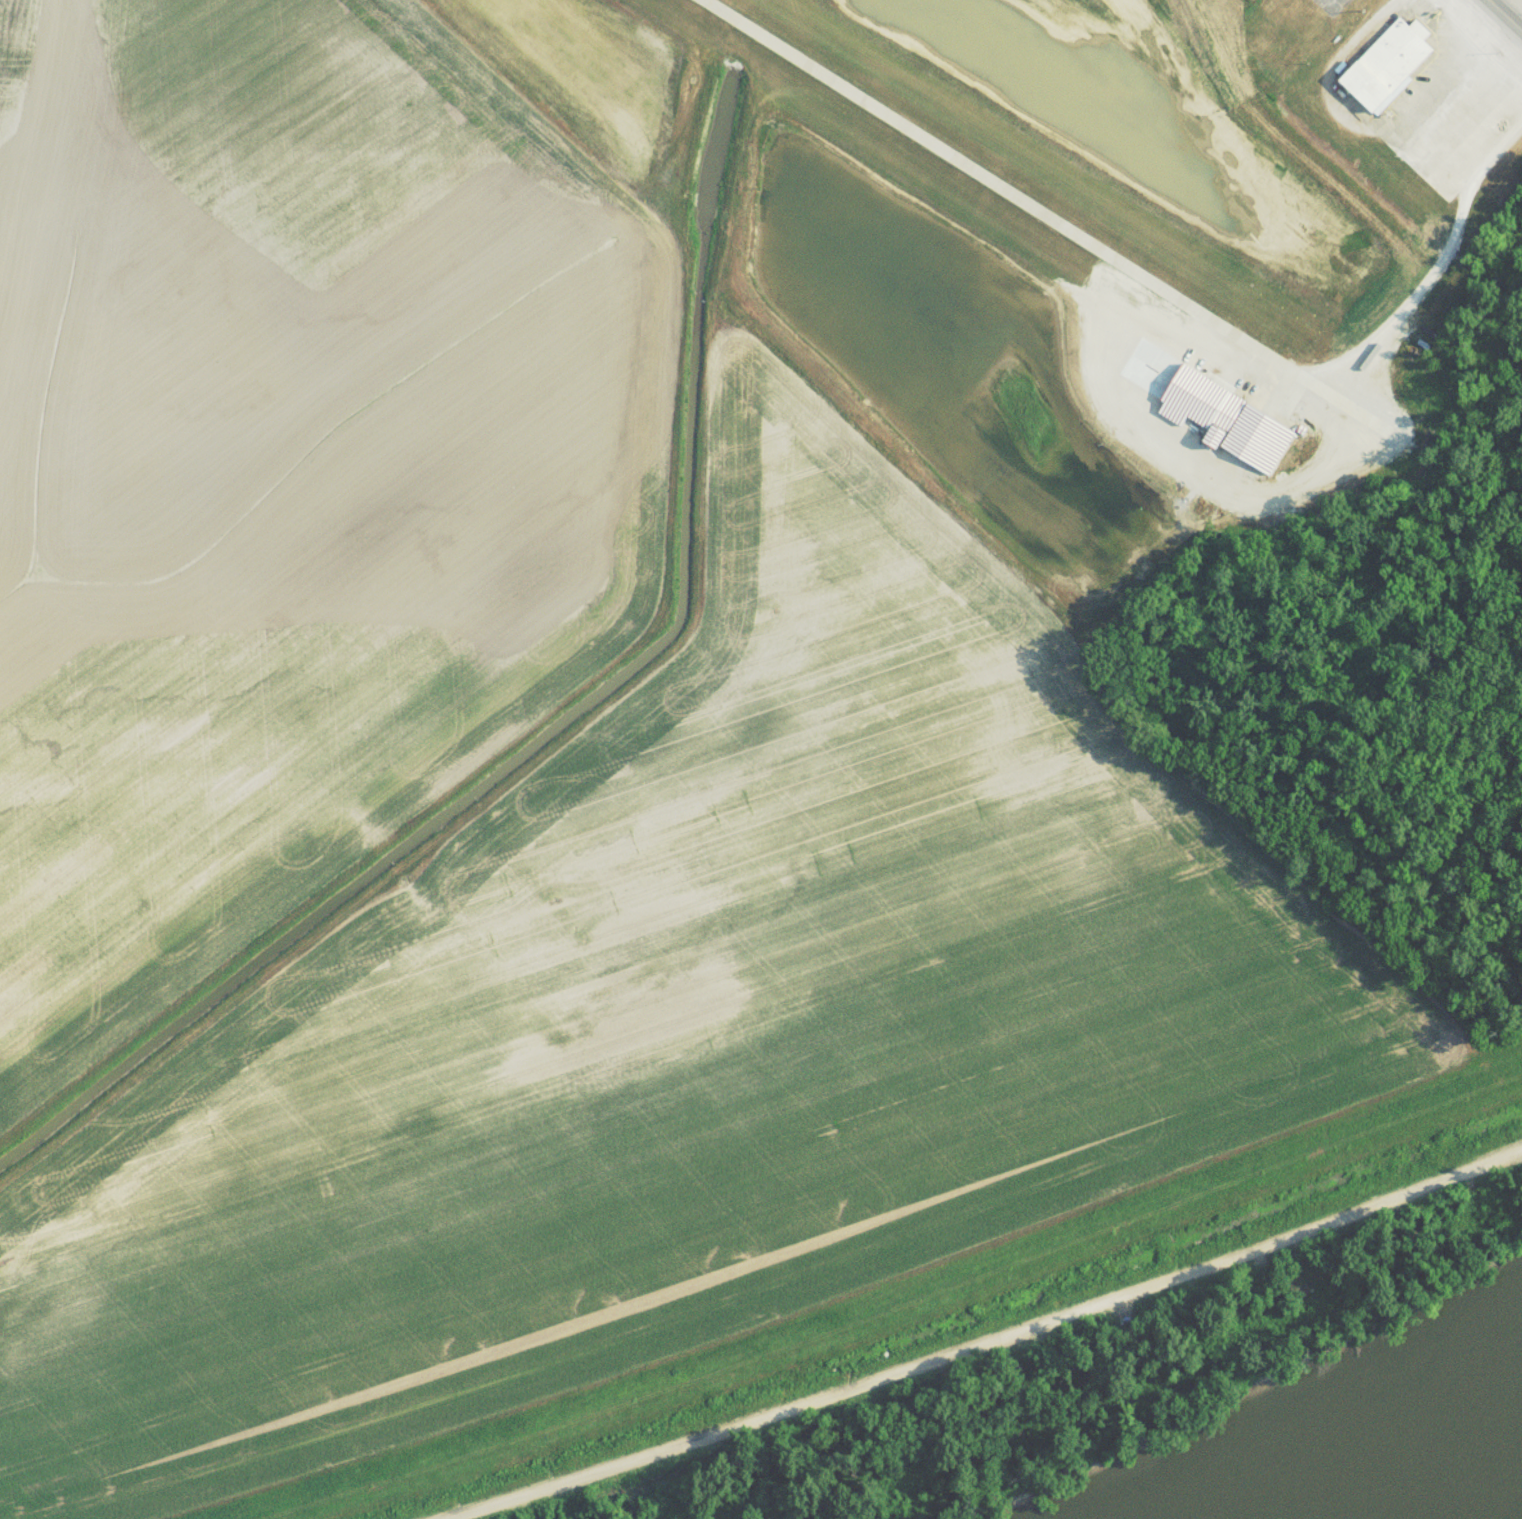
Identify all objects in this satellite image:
road: (1502, 17)
building: (1387, 72)
airport runway: (998, 189)
building: (1243, 426)
road: (992, 1344)
river: (1455, 1484)

